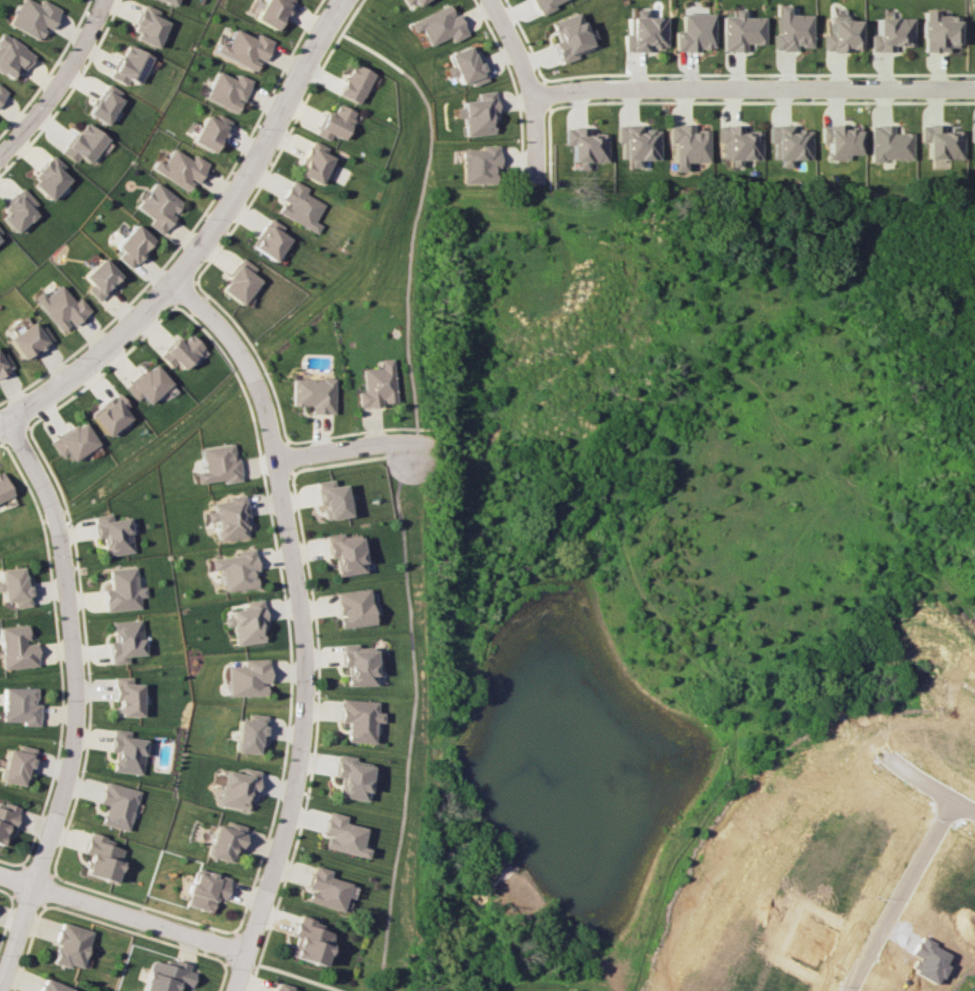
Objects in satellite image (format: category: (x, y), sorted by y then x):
building: (171, 1)
building: (414, 2)
building: (543, 5)
building: (273, 12)
building: (34, 17)
building: (439, 25)
building: (151, 26)
building: (741, 30)
building: (791, 30)
building: (938, 31)
building: (644, 32)
building: (695, 32)
building: (842, 34)
building: (891, 34)
building: (570, 37)
building: (245, 48)
building: (13, 56)
building: (131, 65)
building: (466, 66)
road: (61, 83)
building: (355, 83)
road: (752, 87)
building: (228, 90)
road: (529, 90)
building: (2, 93)
building: (106, 103)
building: (476, 113)
building: (336, 123)
building: (211, 132)
building: (972, 133)
building: (840, 140)
building: (940, 142)
building: (85, 143)
building: (636, 143)
building: (788, 143)
building: (888, 143)
building: (738, 144)
building: (686, 145)
building: (585, 146)
building: (316, 162)
building: (479, 165)
building: (181, 168)
building: (51, 178)
building: (159, 206)
building: (302, 206)
building: (21, 209)
building: (1, 233)
building: (272, 239)
road: (207, 242)
building: (133, 245)
building: (100, 278)
building: (243, 281)
building: (60, 307)
building: (28, 339)
building: (182, 351)
building: (4, 362)
building: (148, 384)
building: (378, 385)
building: (315, 394)
building: (110, 414)
building: (73, 441)
road: (352, 446)
building: (217, 464)
building: (3, 487)
building: (331, 499)
building: (227, 517)
building: (113, 534)
building: (343, 553)
building: (234, 569)
building: (14, 587)
building: (122, 590)
building: (351, 608)
building: (244, 622)
road: (297, 626)
building: (125, 641)
building: (16, 648)
building: (356, 664)
building: (246, 678)
building: (126, 696)
road: (74, 702)
building: (19, 705)
building: (358, 719)
building: (249, 733)
building: (128, 751)
building: (16, 764)
building: (350, 777)
road: (928, 785)
building: (236, 787)
building: (116, 805)
building: (5, 821)
building: (341, 835)
building: (224, 840)
building: (101, 857)
building: (205, 889)
building: (323, 889)
road: (895, 895)
road: (123, 913)
building: (306, 941)
building: (70, 945)
building: (166, 975)
building: (51, 986)
building: (280, 988)

